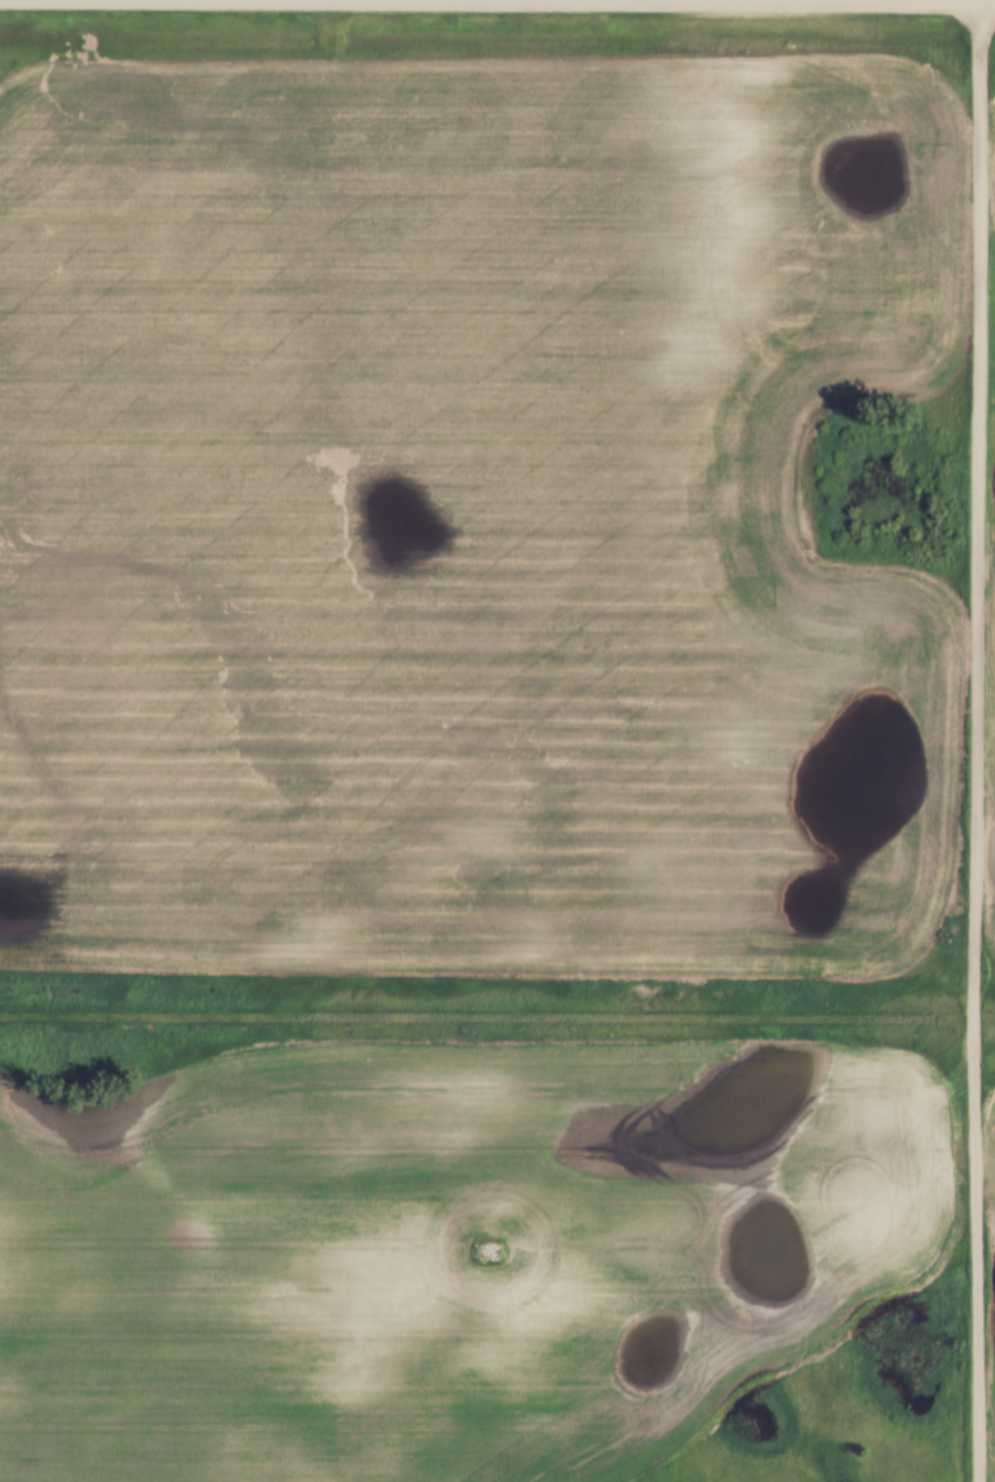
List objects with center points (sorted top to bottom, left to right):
road: (497, 1)
road: (980, 1)
road: (977, 741)

